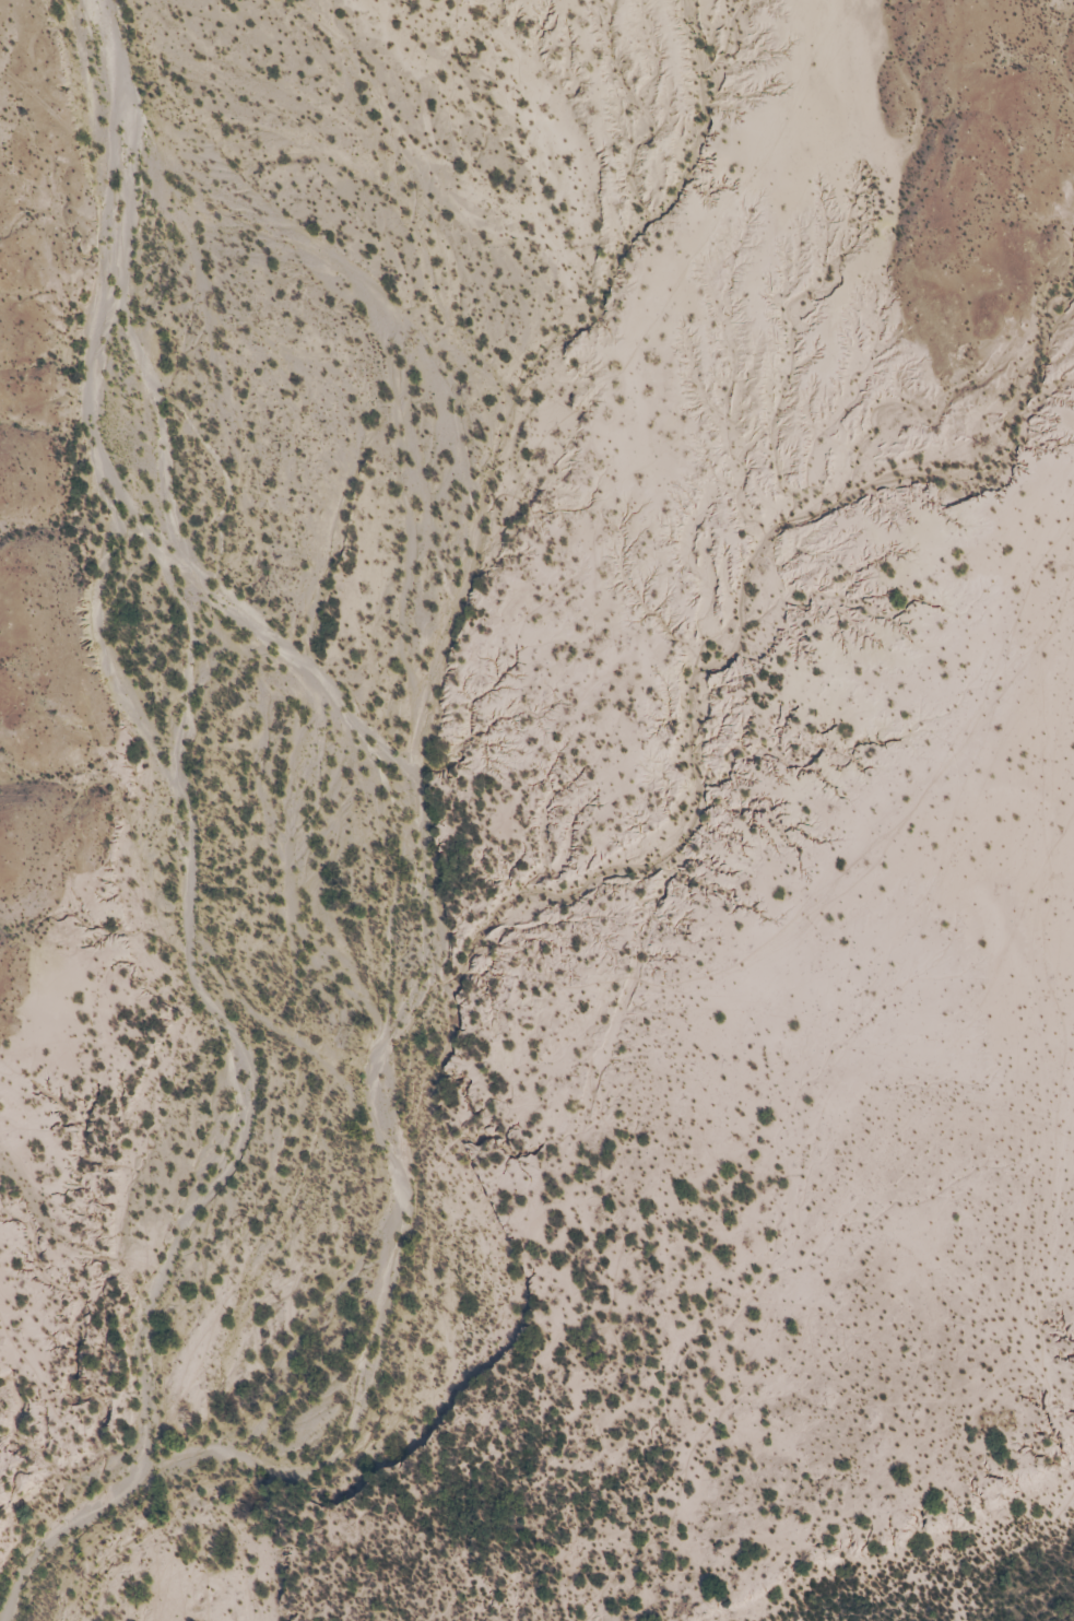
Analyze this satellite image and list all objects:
road: (21, 1197)

